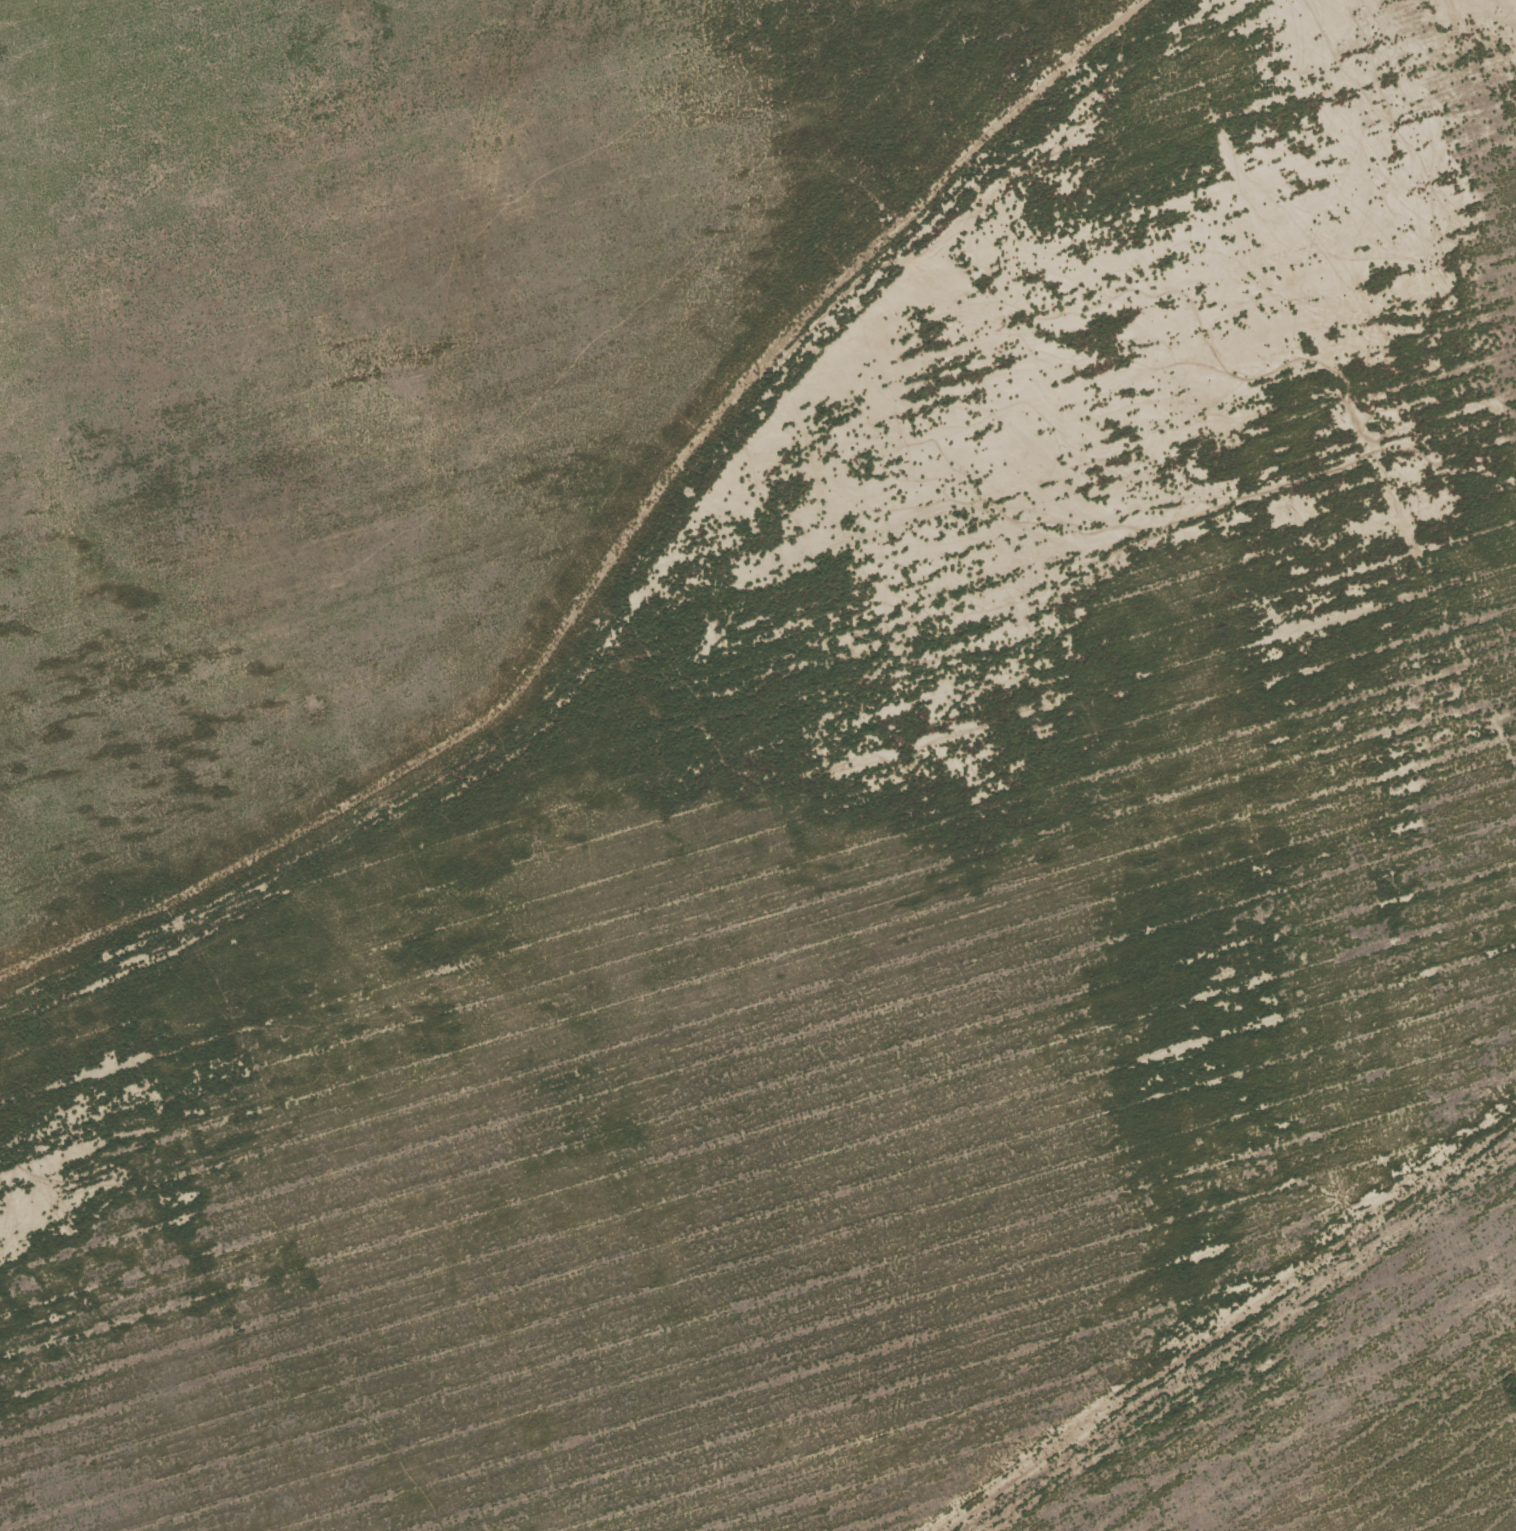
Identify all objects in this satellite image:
road: (698, 776)

